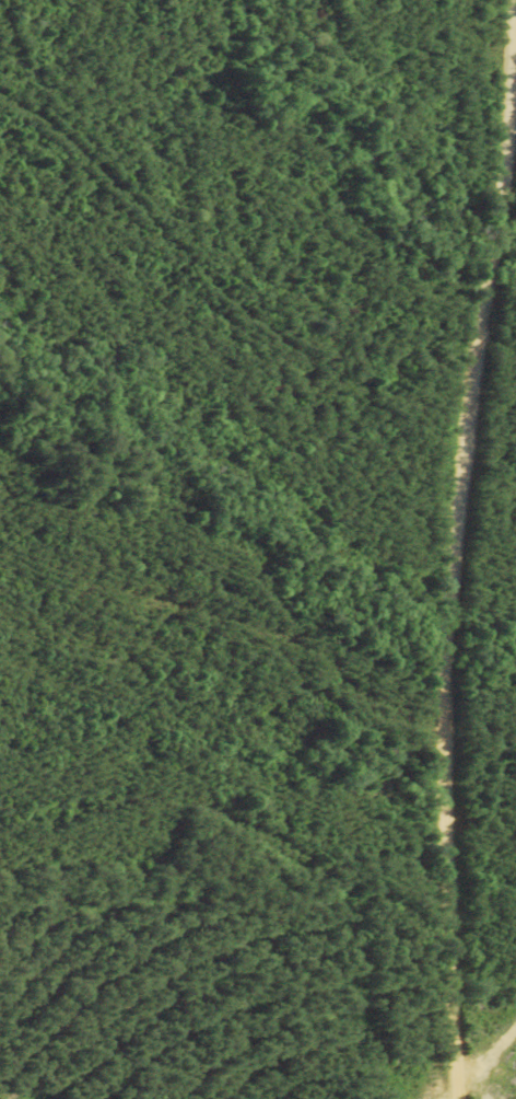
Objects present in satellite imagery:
road: (458, 548)

